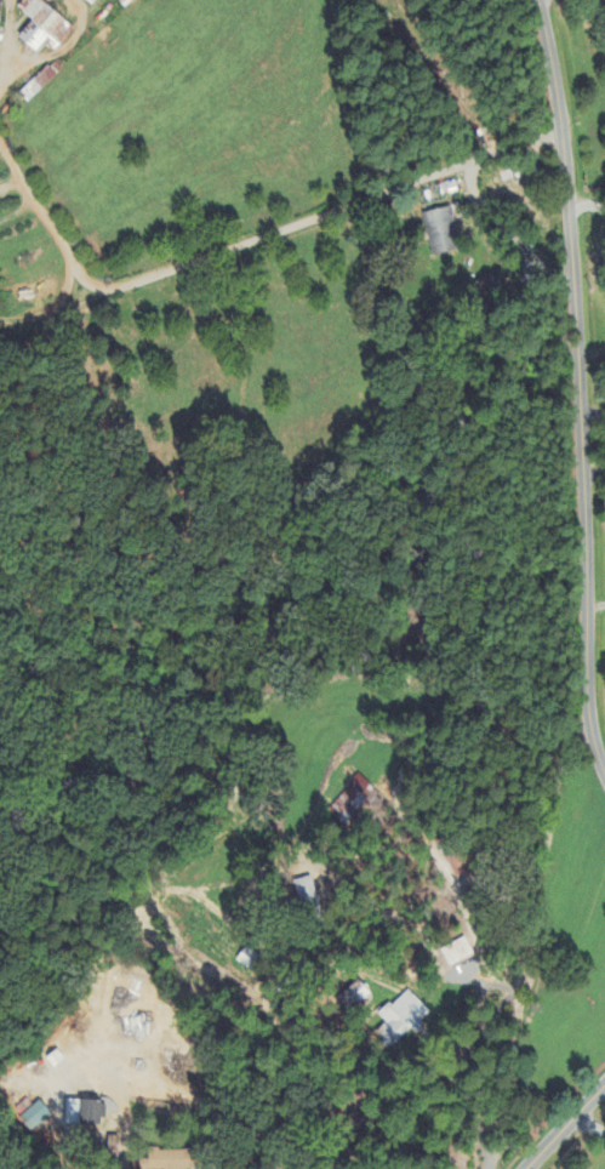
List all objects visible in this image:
building: (92, 1)
building: (44, 27)
road: (59, 53)
building: (39, 84)
road: (8, 156)
road: (587, 196)
road: (506, 232)
building: (443, 233)
road: (264, 235)
building: (489, 290)
road: (53, 310)
road: (581, 383)
building: (358, 800)
building: (461, 872)
building: (307, 894)
building: (457, 953)
building: (249, 959)
road: (508, 993)
building: (353, 997)
building: (401, 1020)
building: (56, 1060)
building: (85, 1113)
building: (35, 1117)
road: (593, 1117)
road: (566, 1124)
building: (169, 1159)
road: (487, 1168)

